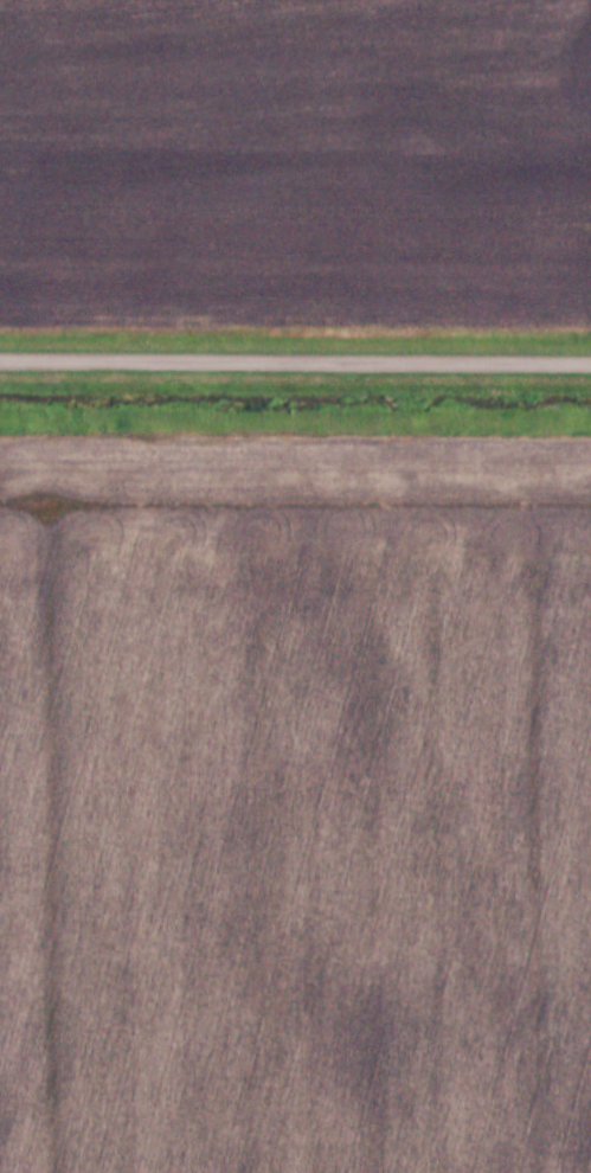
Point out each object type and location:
crop: (295, 165)
road: (295, 358)
crop: (295, 803)

